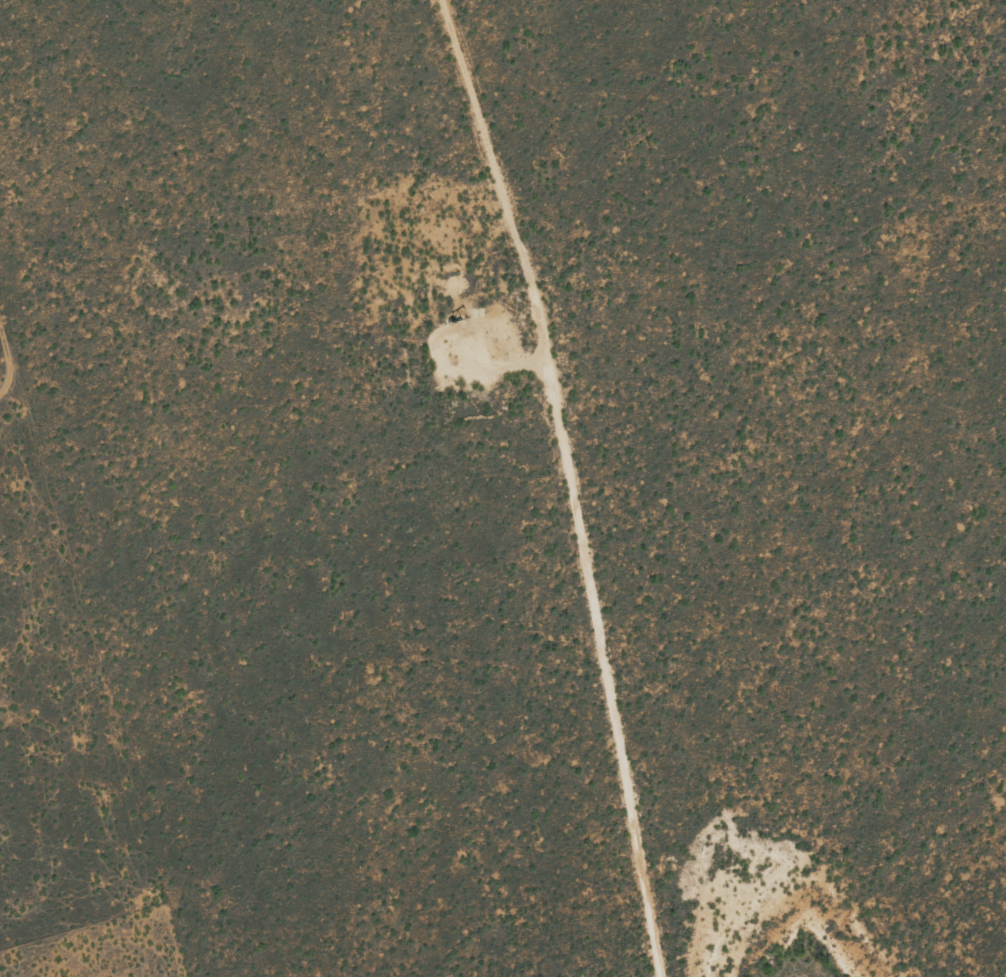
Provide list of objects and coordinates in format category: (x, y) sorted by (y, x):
road: (533, 181)

